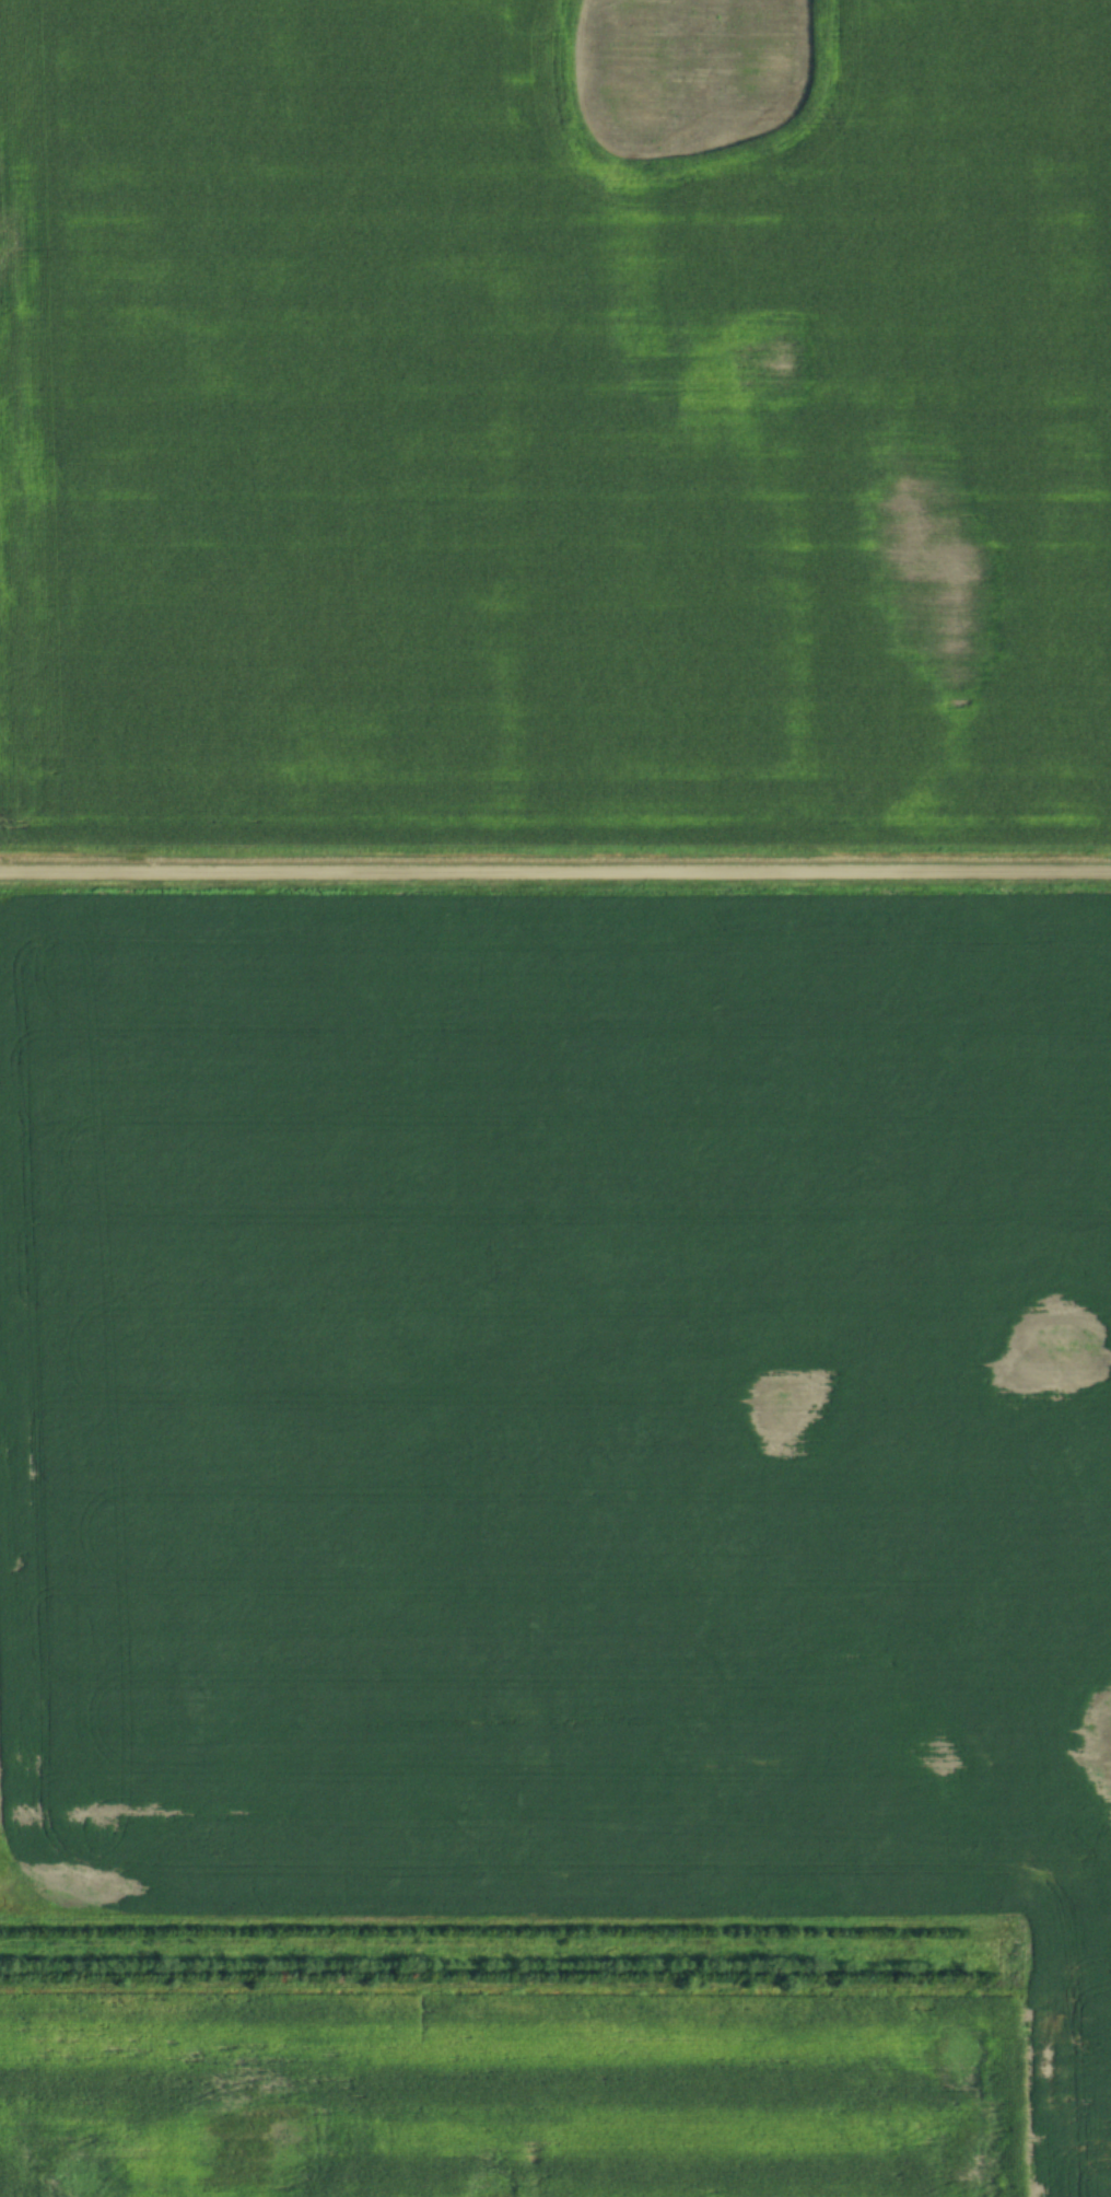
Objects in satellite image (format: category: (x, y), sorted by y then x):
road: (555, 869)

